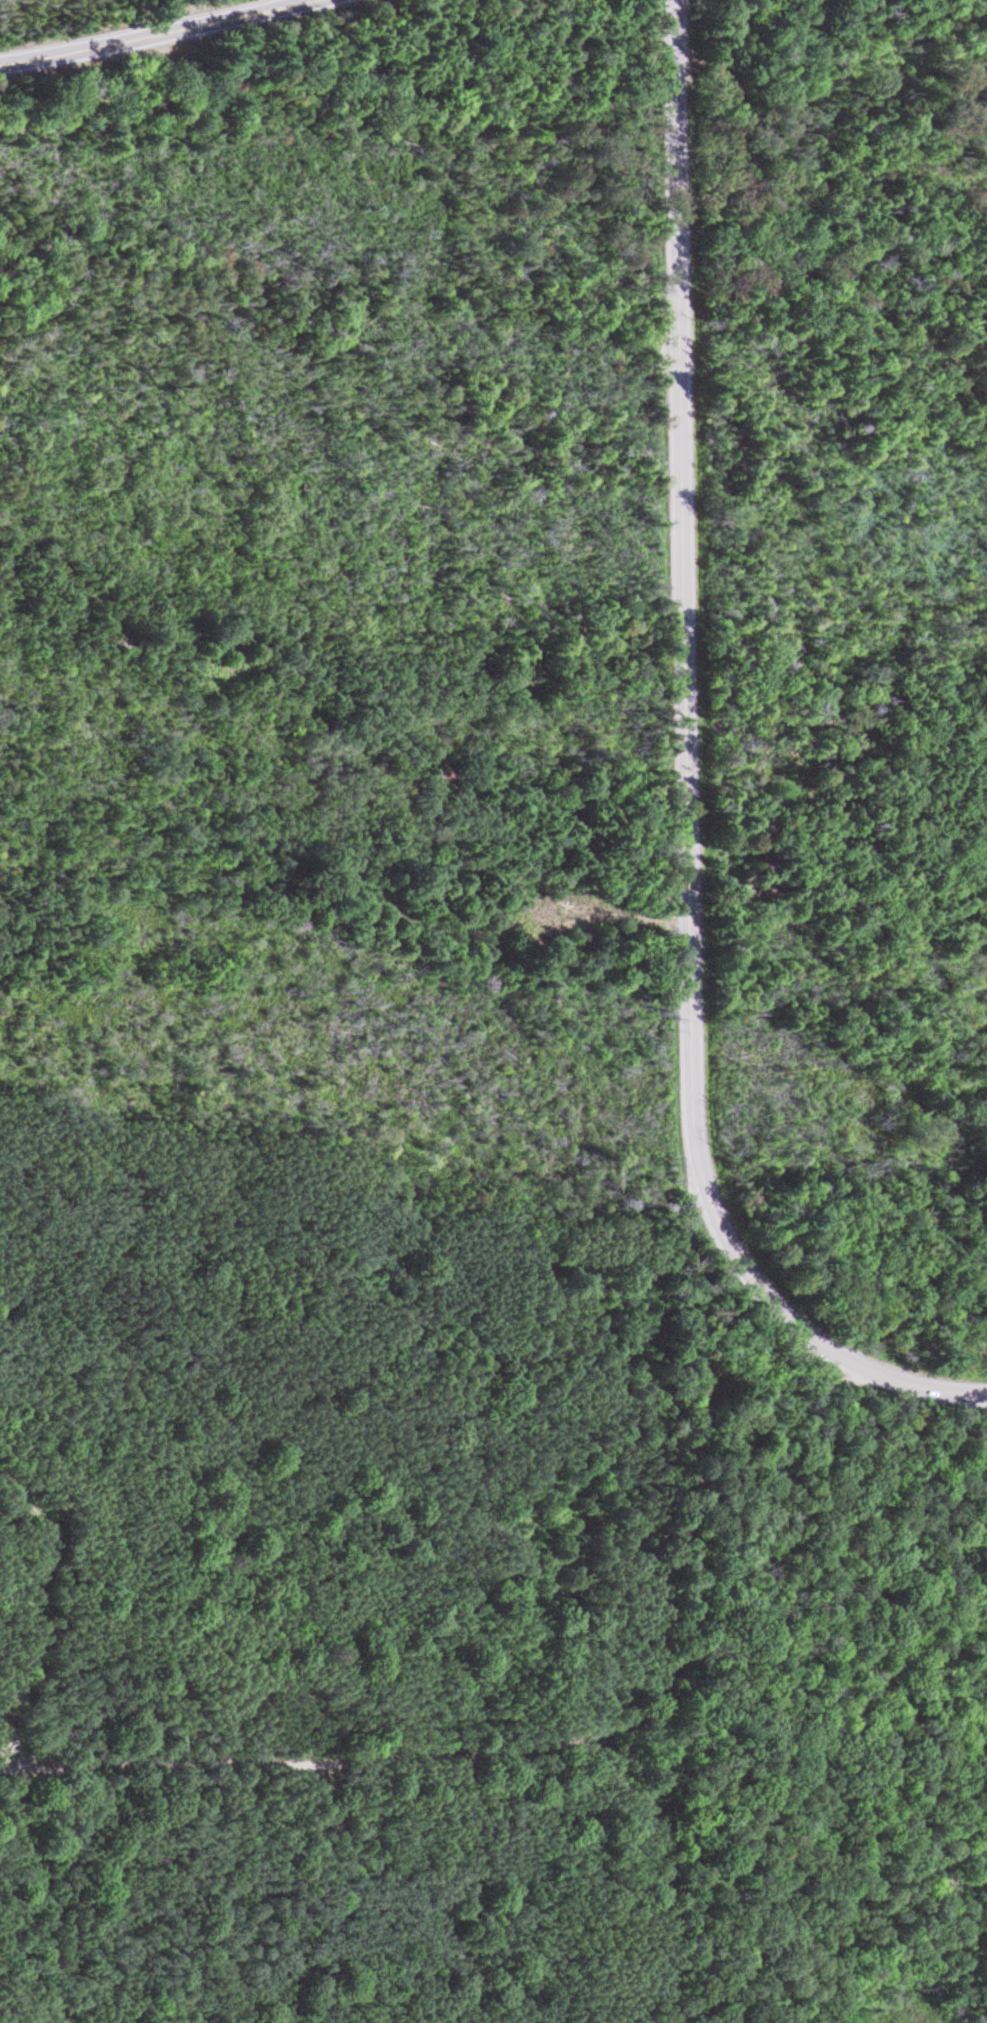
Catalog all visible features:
road: (158, 35)
road: (687, 783)
road: (775, 1385)
road: (682, 1592)
road: (651, 1687)
road: (373, 1754)
road: (826, 1936)

